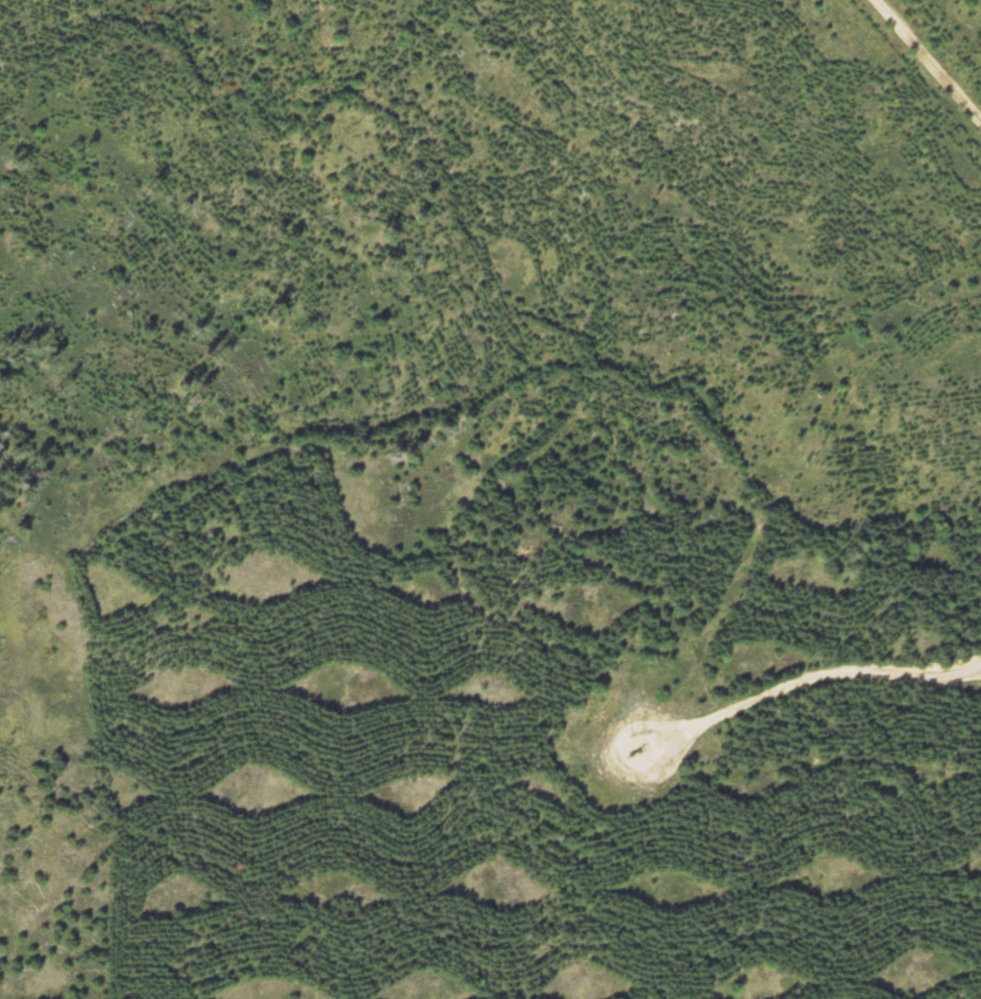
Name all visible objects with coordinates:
road: (930, 59)
road: (819, 684)
petroleum well: (643, 752)

